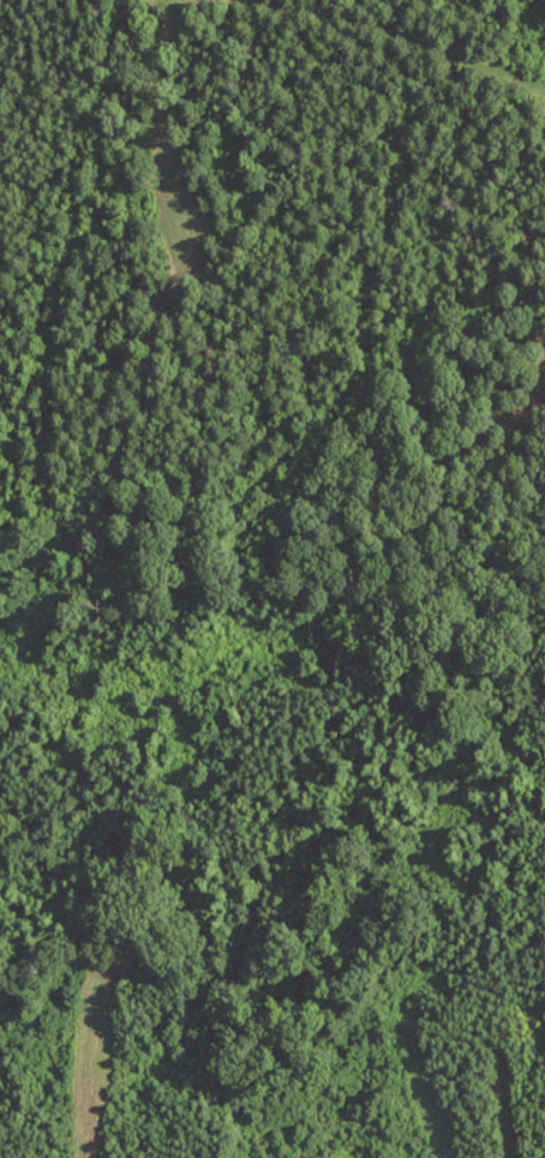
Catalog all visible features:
road: (453, 8)

